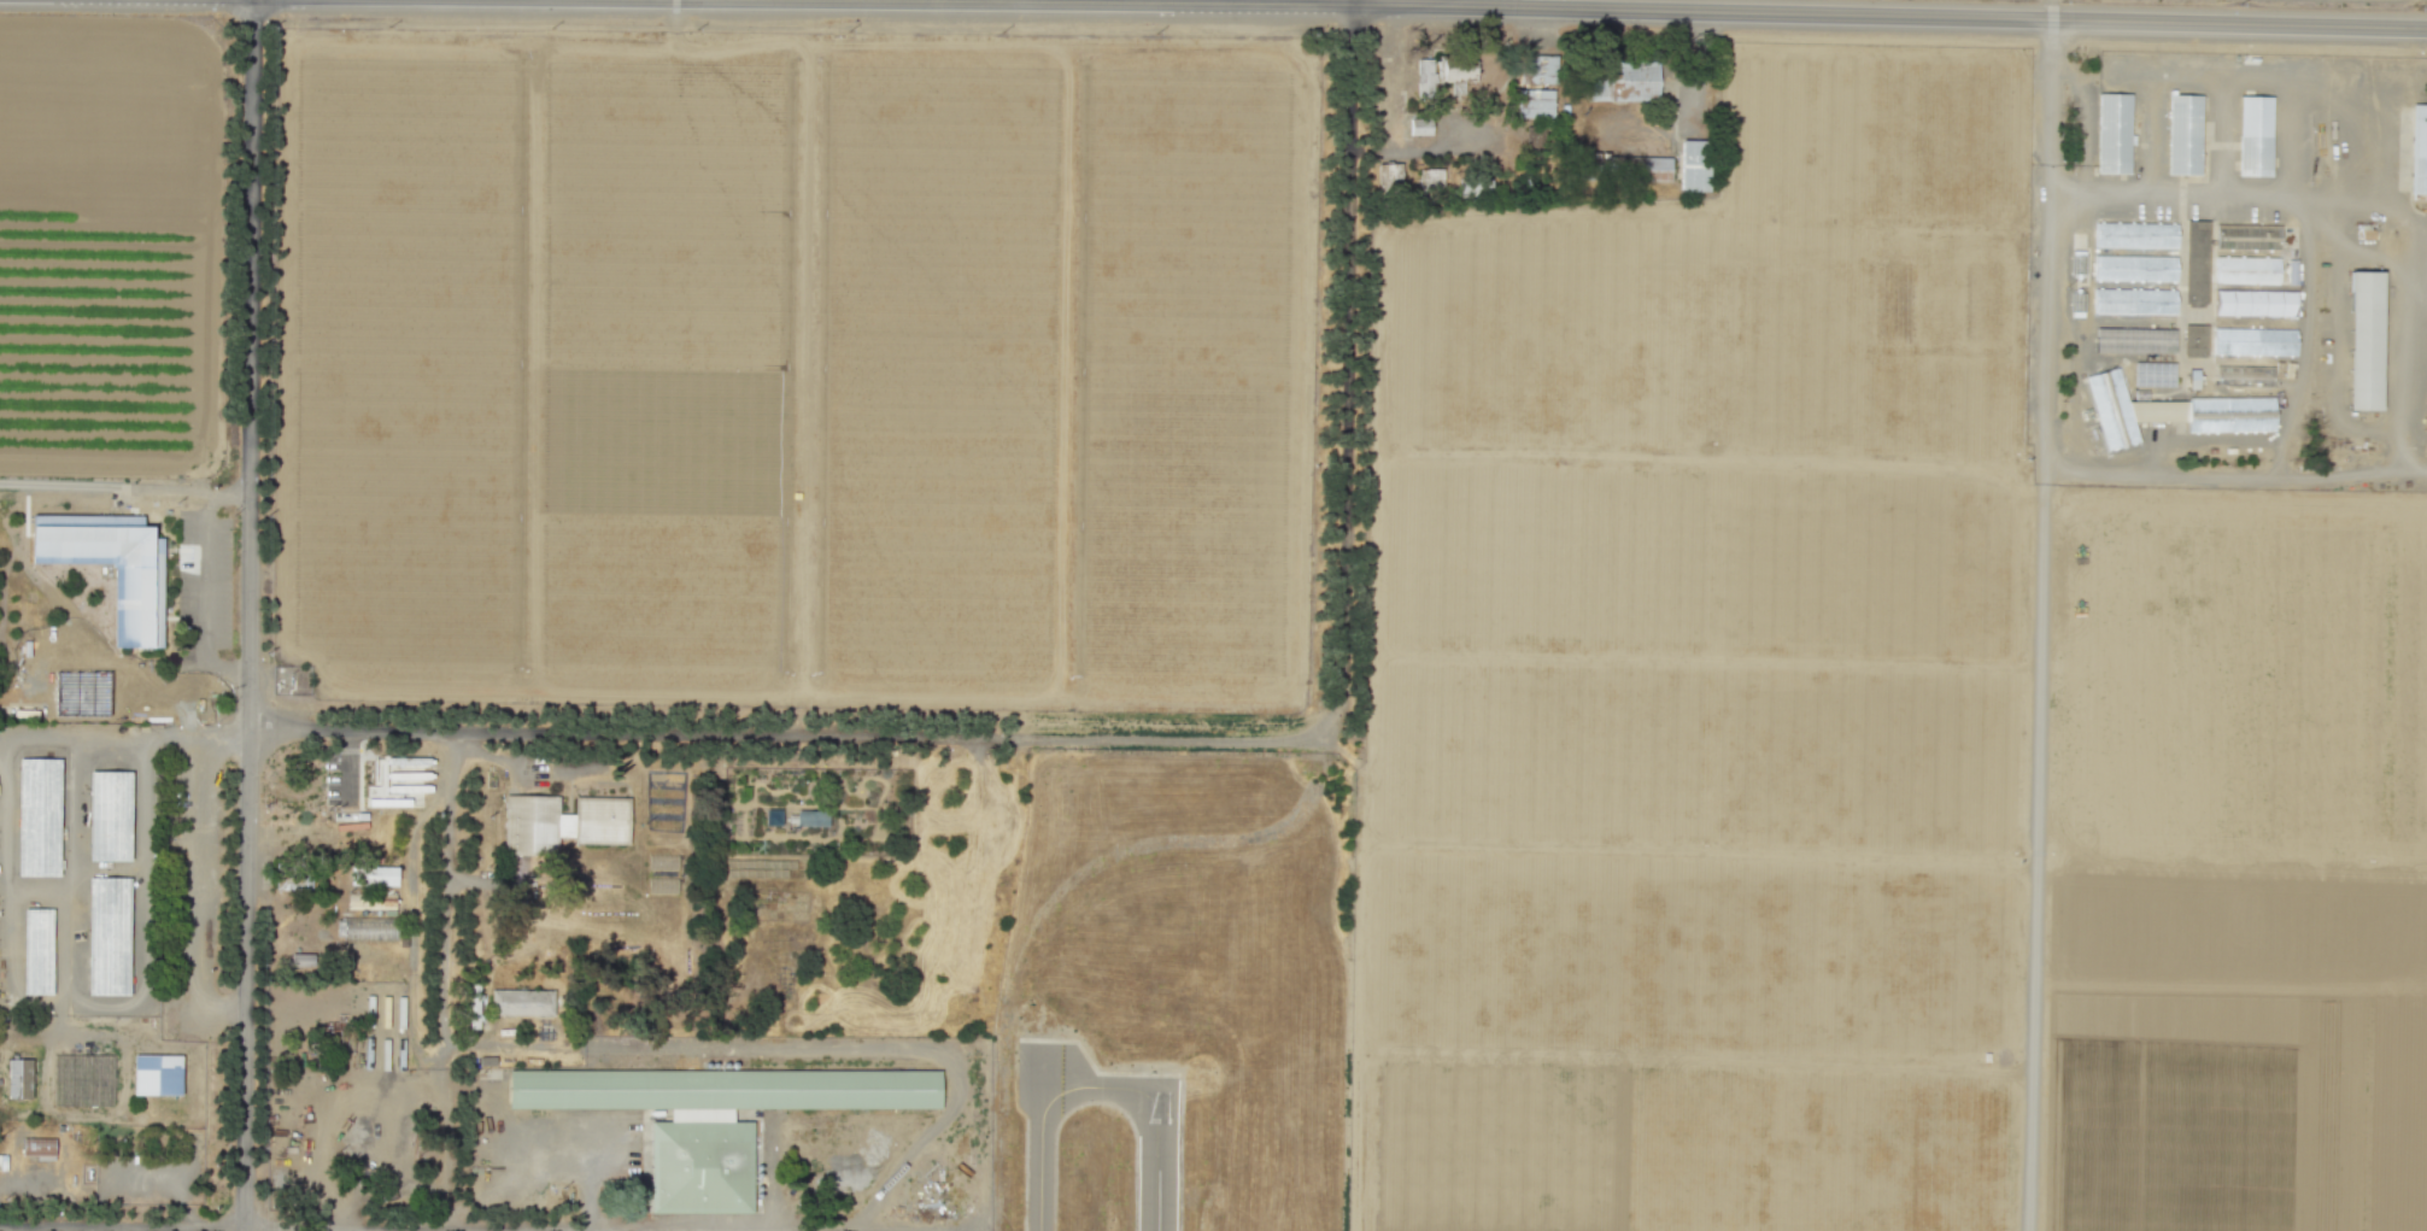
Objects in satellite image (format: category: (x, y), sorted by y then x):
road: (1534, 6)
building: (1537, 69)
road: (2244, 70)
building: (1455, 72)
building: (1424, 77)
building: (1623, 78)
building: (1534, 102)
road: (2082, 122)
building: (1419, 127)
building: (2255, 134)
building: (2116, 135)
building: (2187, 137)
building: (2420, 151)
building: (1694, 164)
building: (1619, 168)
building: (1389, 174)
building: (1430, 177)
road: (2368, 199)
building: (2136, 236)
building: (2250, 240)
road: (2369, 260)
building: (2197, 264)
building: (2138, 269)
building: (2249, 271)
building: (2136, 303)
road: (2414, 303)
building: (2257, 306)
road: (2333, 339)
building: (2368, 340)
building: (2136, 342)
building: (2197, 342)
building: (2255, 342)
building: (2155, 377)
building: (2245, 379)
building: (2114, 410)
building: (2232, 417)
road: (2218, 476)
road: (124, 485)
building: (111, 564)
parking lot: (200, 590)
road: (204, 593)
road: (1333, 593)
road: (248, 615)
road: (2039, 615)
road: (555, 728)
road: (0, 739)
road: (815, 746)
road: (347, 767)
parking lot: (342, 776)
building: (39, 816)
building: (110, 817)
building: (810, 817)
building: (561, 821)
road: (1513, 858)
road: (71, 868)
building: (374, 875)
road: (197, 889)
building: (368, 928)
building: (107, 934)
road: (8, 942)
building: (36, 950)
building: (301, 959)
airport: (1172, 996)
building: (522, 1002)
building: (475, 1006)
road: (802, 1047)
building: (157, 1074)
building: (18, 1078)
airport taxiway: (1100, 1086)
building: (716, 1113)
building: (37, 1148)
airport runway: (1159, 1154)
airport taxiway: (1039, 1157)
road: (119, 1225)
road: (195, 1229)
road: (592, 1229)
road: (602, 1230)

